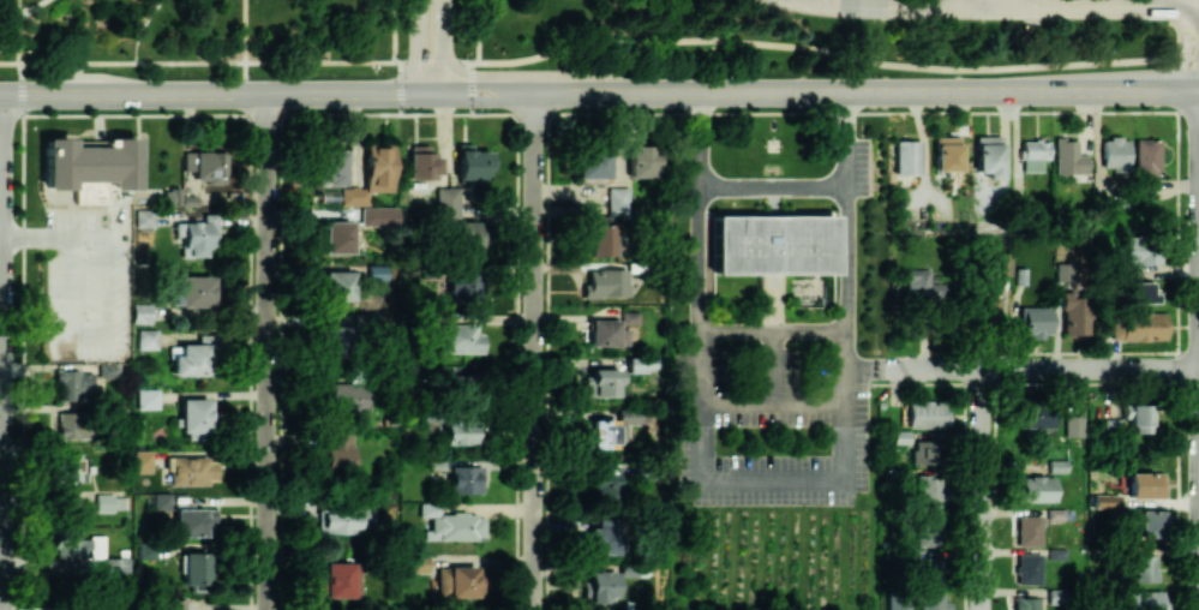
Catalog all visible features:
road: (955, 1)
road: (1009, 1)
road: (1011, 4)
road: (30, 7)
road: (1036, 10)
road: (1198, 12)
road: (140, 28)
road: (392, 30)
road: (476, 30)
park: (557, 38)
road: (599, 42)
road: (443, 44)
road: (418, 46)
road: (1198, 84)
road: (398, 86)
road: (469, 88)
road: (1153, 89)
road: (1198, 89)
road: (775, 90)
traffic signals: (418, 91)
traffic signals: (444, 91)
road: (222, 92)
road: (599, 114)
road: (1198, 138)
building: (948, 154)
building: (1114, 154)
building: (1036, 155)
building: (990, 157)
building: (910, 159)
building: (1071, 159)
building: (640, 161)
building: (421, 162)
building: (470, 163)
building: (592, 165)
road: (2, 166)
building: (206, 166)
building: (328, 166)
building: (88, 167)
building: (1145, 167)
building: (371, 174)
road: (774, 187)
building: (446, 199)
building: (617, 201)
building: (378, 216)
building: (143, 217)
building: (460, 235)
building: (600, 235)
building: (197, 237)
building: (336, 237)
road: (1, 239)
building: (772, 244)
building: (1138, 250)
building: (1001, 263)
building: (376, 271)
building: (606, 283)
building: (337, 286)
building: (923, 286)
building: (462, 287)
building: (191, 291)
building: (1139, 292)
road: (23, 304)
road: (251, 304)
building: (987, 306)
building: (140, 312)
building: (1073, 315)
building: (629, 317)
building: (1035, 321)
building: (1137, 325)
road: (77, 333)
building: (605, 333)
road: (775, 333)
building: (146, 339)
building: (458, 339)
road: (268, 351)
road: (530, 351)
building: (188, 359)
road: (1, 363)
building: (641, 364)
road: (777, 369)
road: (1039, 369)
building: (107, 371)
building: (601, 382)
building: (72, 385)
building: (344, 396)
building: (146, 399)
road: (775, 406)
building: (925, 414)
building: (193, 415)
building: (1036, 417)
building: (1138, 418)
building: (71, 423)
road: (2, 424)
building: (1073, 425)
building: (611, 427)
building: (460, 431)
building: (337, 449)
building: (924, 451)
building: (1056, 466)
building: (68, 467)
building: (191, 470)
building: (464, 479)
road: (775, 482)
building: (1144, 484)
building: (604, 486)
road: (982, 489)
building: (1036, 489)
building: (928, 490)
building: (1104, 501)
building: (110, 502)
building: (344, 520)
building: (193, 521)
building: (1149, 522)
building: (451, 525)
building: (928, 528)
building: (1029, 531)
building: (601, 537)
building: (77, 545)
building: (146, 548)
building: (1055, 552)
building: (419, 563)
building: (115, 568)
building: (1027, 568)
building: (1144, 568)
building: (194, 569)
building: (628, 569)
building: (340, 579)
building: (456, 581)
building: (603, 586)
building: (1144, 599)
building: (931, 602)
building: (1027, 603)
building: (899, 605)

